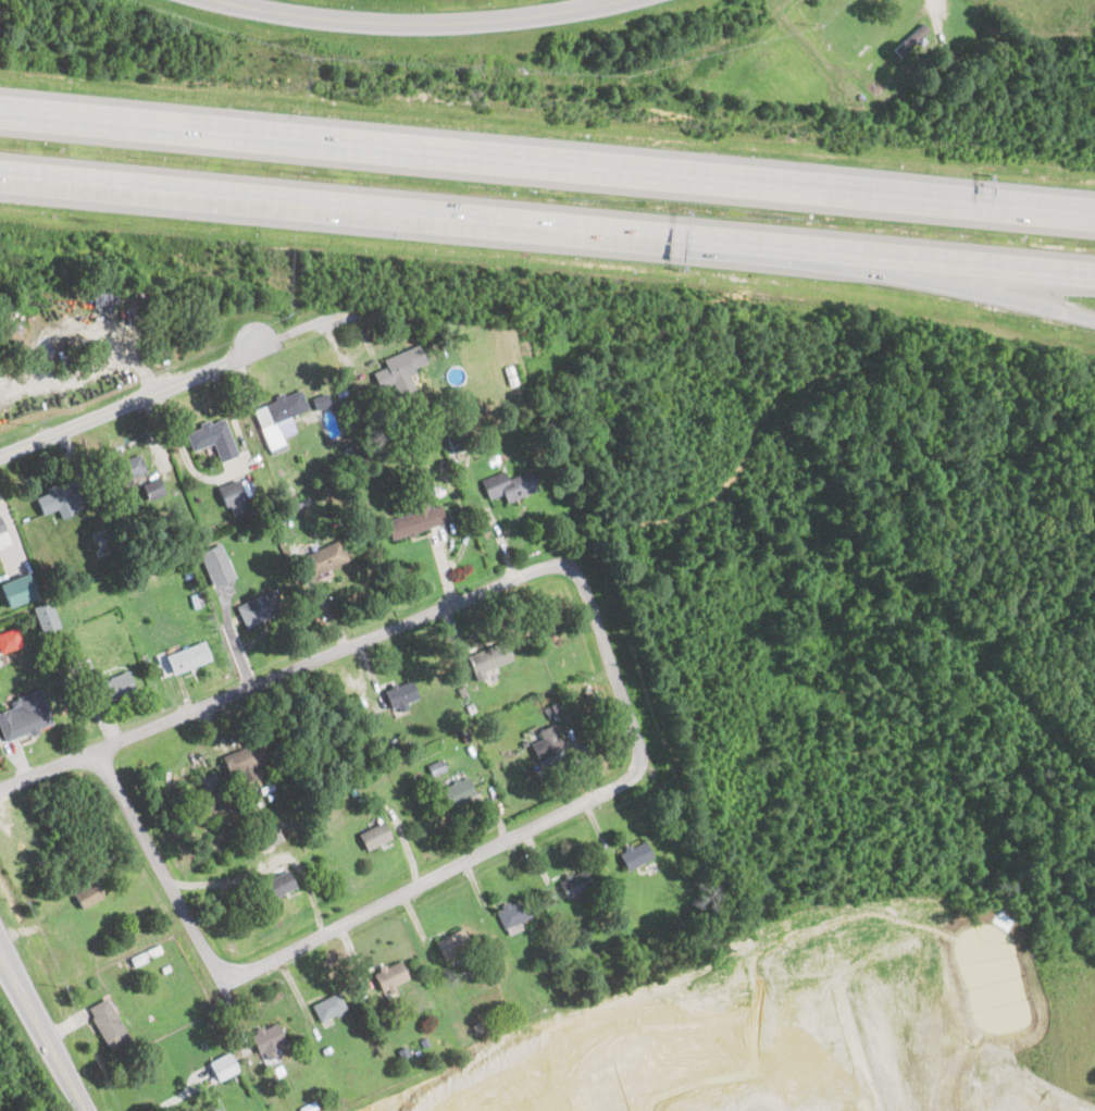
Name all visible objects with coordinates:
road: (595, 0)
road: (941, 5)
road: (414, 18)
building: (911, 40)
road: (547, 161)
road: (409, 213)
road: (957, 266)
road: (957, 285)
building: (399, 369)
road: (172, 381)
building: (321, 399)
building: (278, 417)
road: (159, 436)
building: (212, 437)
building: (124, 472)
building: (154, 485)
building: (508, 485)
building: (233, 496)
building: (58, 499)
building: (414, 521)
building: (1, 522)
building: (3, 536)
building: (325, 559)
building: (216, 565)
building: (17, 590)
building: (260, 607)
building: (45, 617)
building: (9, 640)
building: (188, 657)
building: (489, 657)
building: (109, 686)
building: (401, 695)
building: (25, 715)
building: (545, 744)
building: (245, 758)
road: (48, 768)
building: (209, 780)
building: (457, 792)
building: (269, 836)
building: (374, 836)
building: (635, 853)
road: (269, 861)
building: (574, 882)
building: (277, 885)
building: (87, 894)
building: (513, 914)
building: (453, 943)
road: (215, 965)
building: (389, 977)
building: (327, 1007)
building: (108, 1023)
road: (41, 1030)
building: (269, 1040)
building: (224, 1065)
building: (216, 1110)

